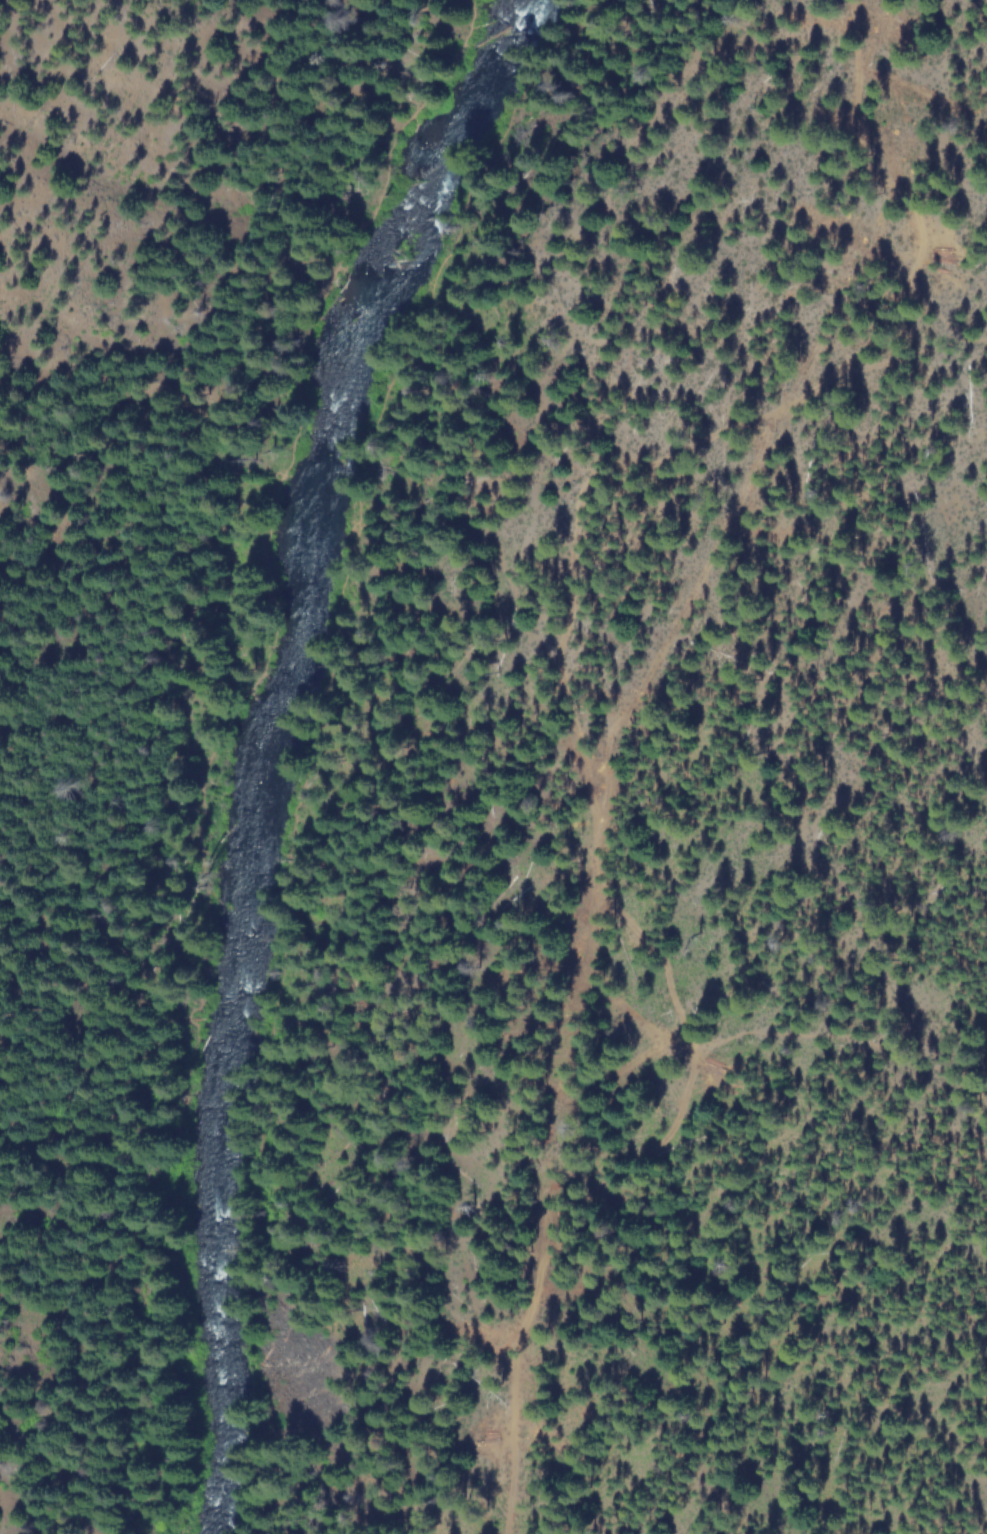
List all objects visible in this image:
road: (320, 747)
road: (210, 750)
river: (272, 751)

